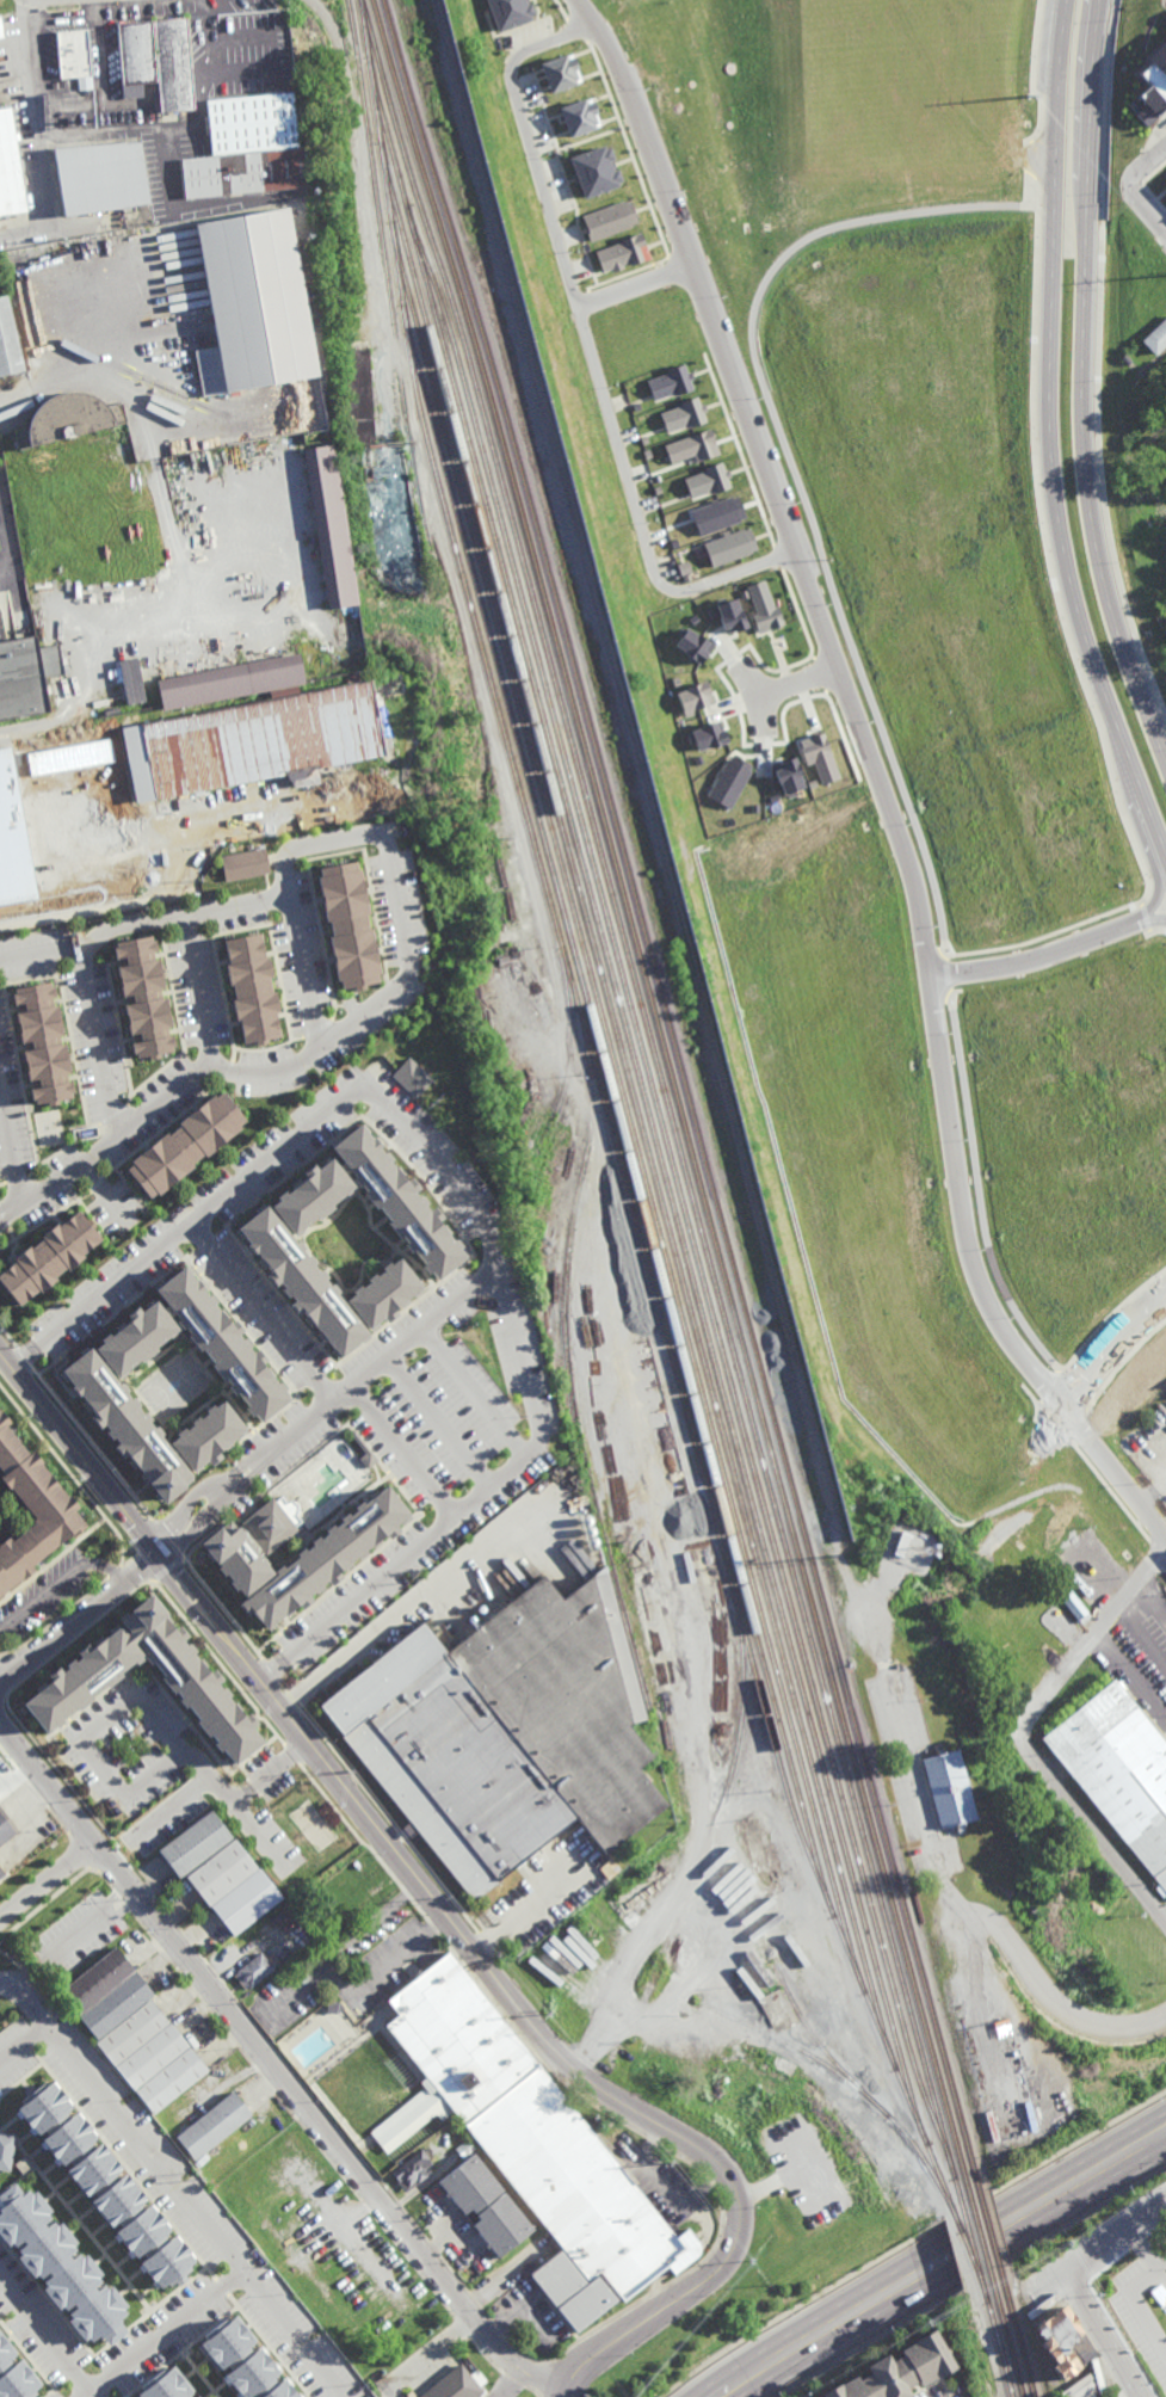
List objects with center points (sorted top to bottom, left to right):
road: (586, 11)
building: (510, 12)
building: (1, 29)
building: (138, 53)
building: (75, 58)
road: (31, 64)
building: (175, 66)
road: (1034, 72)
building: (560, 73)
building: (1153, 86)
power tower: (1028, 95)
building: (579, 117)
building: (252, 123)
road: (179, 124)
road: (1029, 138)
road: (1035, 160)
road: (1145, 162)
building: (10, 170)
building: (594, 171)
building: (246, 173)
building: (103, 178)
road: (1030, 180)
road: (1038, 193)
road: (1155, 197)
road: (47, 202)
road: (1146, 205)
building: (609, 220)
railway: (383, 247)
building: (622, 254)
road: (636, 283)
building: (253, 303)
building: (1156, 338)
building: (8, 340)
road: (594, 346)
road: (82, 355)
road: (1097, 364)
road: (1080, 380)
building: (668, 383)
building: (358, 395)
building: (69, 414)
building: (681, 415)
road: (1049, 437)
building: (691, 448)
road: (795, 476)
building: (705, 481)
building: (716, 514)
road: (1, 524)
building: (329, 524)
road: (6, 540)
building: (728, 547)
building: (761, 606)
building: (729, 616)
building: (692, 646)
road: (1075, 659)
road: (797, 679)
building: (131, 680)
building: (228, 680)
building: (20, 683)
road: (754, 690)
building: (693, 697)
road: (855, 710)
building: (708, 735)
building: (253, 744)
building: (818, 757)
building: (786, 776)
building: (728, 781)
road: (252, 809)
building: (58, 821)
building: (243, 864)
road: (391, 875)
road: (1159, 882)
road: (82, 910)
road: (1154, 918)
building: (347, 925)
road: (1154, 930)
road: (39, 949)
road: (1039, 956)
road: (302, 969)
road: (945, 974)
road: (196, 990)
building: (251, 990)
building: (142, 996)
building: (43, 1042)
railway: (569, 1058)
building: (411, 1077)
railway: (627, 1083)
railway: (685, 1089)
railway: (674, 1090)
railway: (665, 1091)
railway: (641, 1097)
railway: (609, 1098)
railway: (623, 1107)
railway: (605, 1114)
road: (11, 1144)
building: (185, 1145)
railway: (610, 1156)
road: (449, 1179)
road: (979, 1190)
road: (103, 1193)
railway: (677, 1195)
road: (8, 1209)
building: (43, 1230)
building: (53, 1236)
building: (431, 1246)
building: (61, 1255)
building: (123, 1262)
building: (18, 1280)
road: (1106, 1317)
building: (292, 1330)
road: (1109, 1344)
road: (23, 1352)
railway: (569, 1376)
building: (254, 1388)
road: (1047, 1389)
road: (1069, 1391)
road: (471, 1394)
building: (173, 1419)
road: (1053, 1423)
road: (1054, 1423)
road: (436, 1424)
road: (1074, 1424)
building: (206, 1436)
railway: (673, 1447)
road: (1113, 1469)
road: (69, 1473)
railway: (709, 1481)
road: (481, 1493)
building: (32, 1512)
building: (297, 1551)
road: (113, 1572)
road: (58, 1583)
road: (418, 1602)
road: (1150, 1604)
building: (1074, 1607)
road: (79, 1609)
road: (54, 1617)
road: (73, 1623)
road: (192, 1626)
road: (1142, 1635)
parking lot: (1146, 1635)
road: (1091, 1639)
building: (111, 1664)
road: (273, 1668)
road: (1129, 1684)
road: (243, 1693)
road: (129, 1715)
building: (505, 1738)
building: (1119, 1770)
railway: (730, 1775)
building: (186, 1786)
building: (948, 1788)
road: (926, 1795)
road: (932, 1806)
building: (4, 1829)
road: (1091, 1829)
road: (396, 1832)
building: (153, 1835)
road: (940, 1842)
building: (192, 1844)
building: (783, 1861)
building: (0, 1874)
building: (218, 1874)
building: (351, 1875)
road: (47, 1880)
building: (259, 1883)
building: (640, 1890)
building: (267, 1894)
road: (438, 1905)
building: (298, 1906)
road: (530, 1906)
building: (289, 1920)
building: (217, 1921)
road: (436, 1930)
building: (588, 1930)
road: (988, 1931)
building: (235, 1949)
road: (481, 1962)
building: (252, 1971)
road: (339, 1976)
building: (94, 1982)
road: (1055, 2002)
road: (977, 2004)
building: (113, 2007)
road: (1059, 2026)
building: (130, 2032)
road: (265, 2039)
road: (23, 2044)
railway: (800, 2048)
building: (148, 2054)
road: (252, 2060)
building: (783, 2064)
road: (274, 2069)
building: (168, 2078)
railway: (852, 2079)
building: (211, 2125)
building: (531, 2131)
road: (653, 2140)
building: (464, 2149)
building: (6, 2151)
road: (683, 2158)
building: (411, 2170)
road: (711, 2182)
building: (468, 2183)
building: (104, 2185)
road: (173, 2186)
railway: (949, 2200)
building: (500, 2224)
railway: (962, 2231)
railway: (992, 2232)
railway: (981, 2236)
railway: (970, 2238)
road: (914, 2242)
road: (1146, 2256)
road: (944, 2262)
road: (1161, 2266)
building: (61, 2272)
road: (970, 2281)
road: (1072, 2284)
road: (1075, 2285)
building: (572, 2291)
road: (653, 2293)
road: (1093, 2297)
road: (1140, 2307)
parking lot: (1141, 2307)
road: (164, 2334)
road: (47, 2337)
building: (1057, 2339)
railway: (1019, 2341)
railway: (1010, 2342)
railway: (999, 2343)
road: (1092, 2344)
road: (428, 2356)
building: (247, 2364)
building: (895, 2370)
building: (16, 2374)
road: (511, 2378)
road: (537, 2378)
road: (513, 2384)
building: (166, 2385)
building: (455, 2385)
road: (528, 2389)
road: (536, 2395)
parking lot: (1112, 2396)
road: (1136, 2396)

